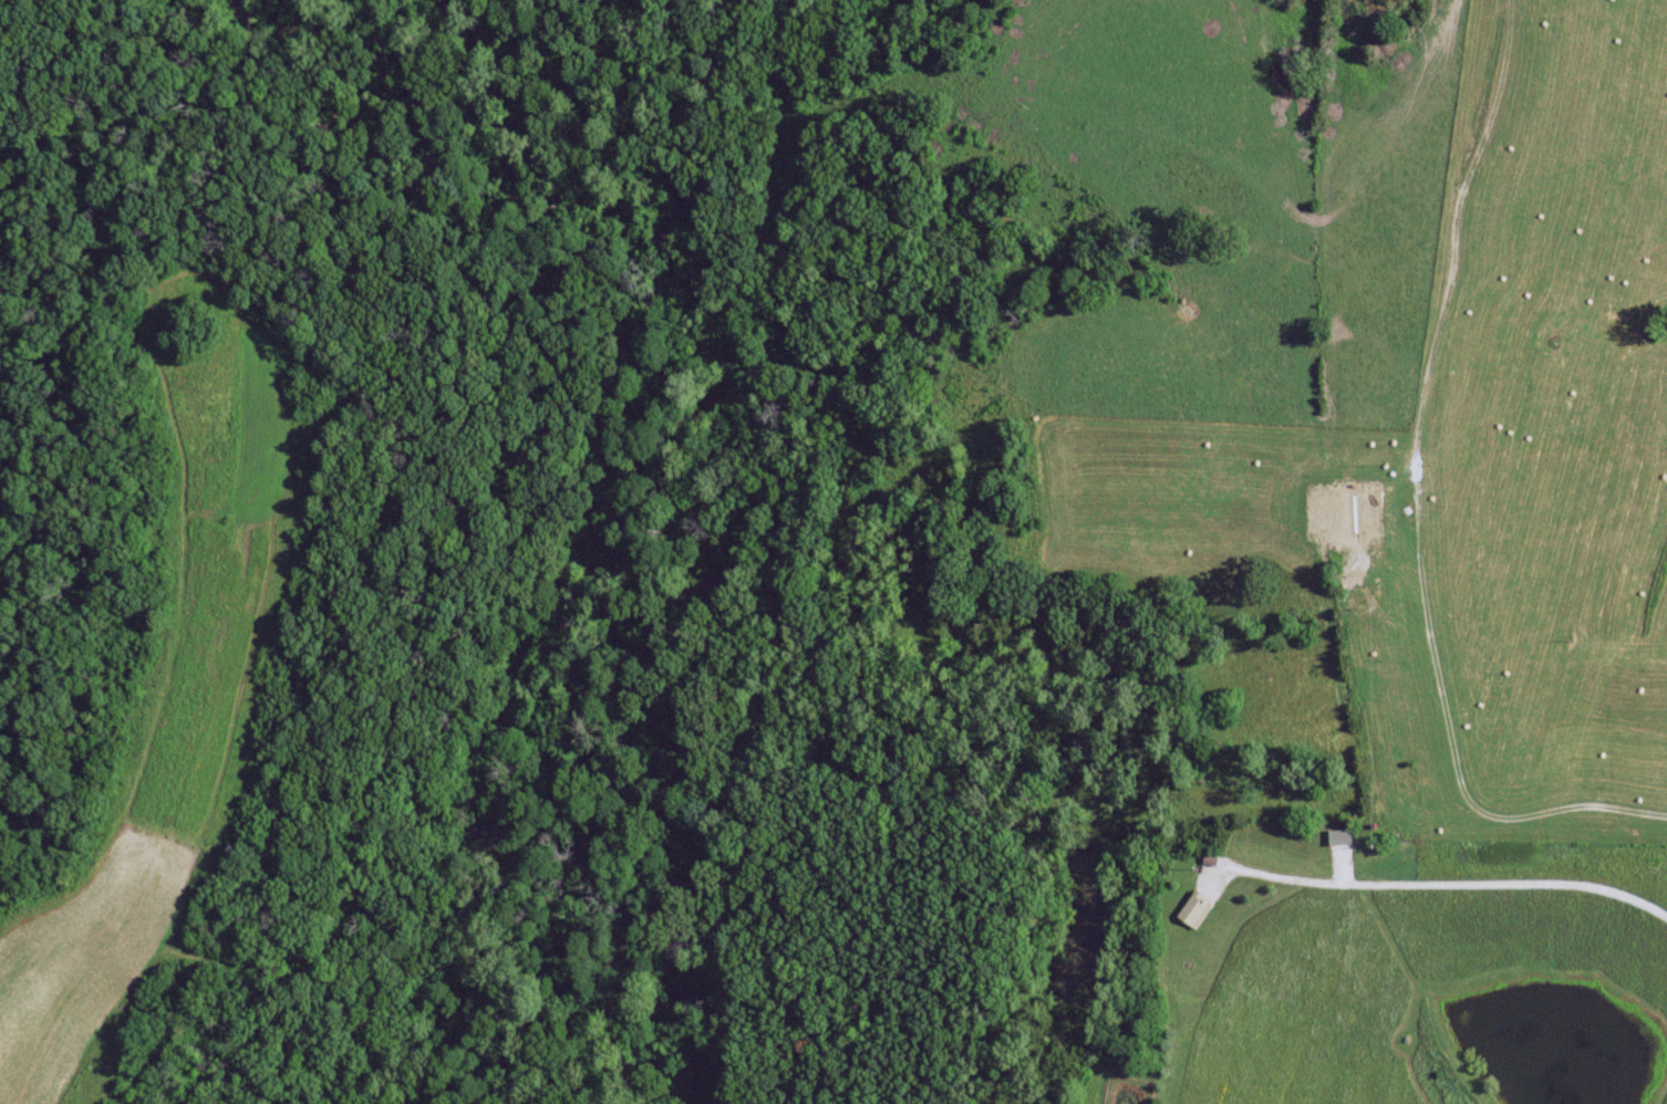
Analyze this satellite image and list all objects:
road: (1440, 886)
building: (1200, 912)

